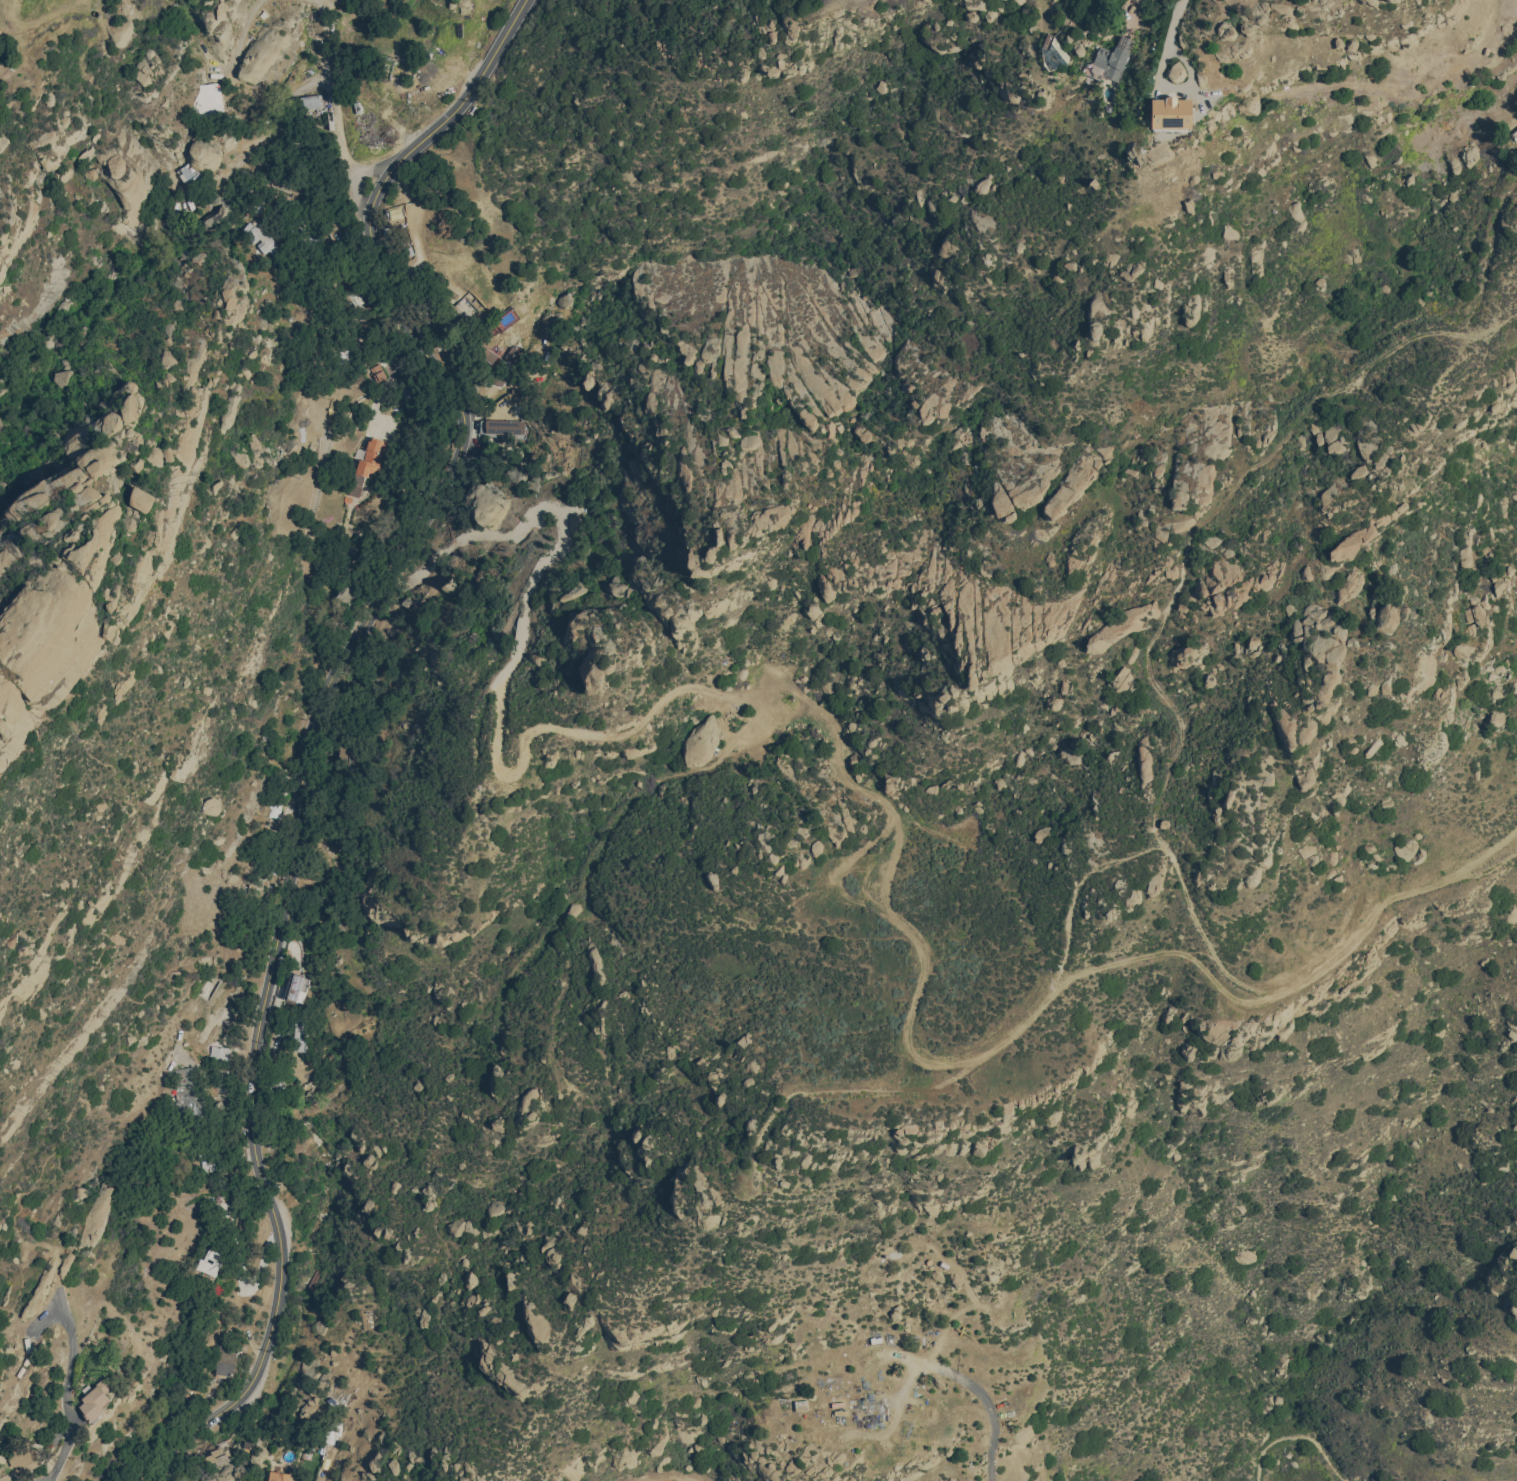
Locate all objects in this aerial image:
road: (1172, 23)
road: (244, 31)
building: (1113, 57)
building: (1174, 69)
building: (144, 73)
building: (207, 98)
building: (310, 100)
building: (1170, 112)
road: (335, 114)
road: (366, 170)
building: (1294, 210)
building: (259, 238)
building: (225, 292)
building: (1190, 309)
building: (508, 352)
building: (375, 372)
building: (501, 426)
building: (292, 448)
building: (366, 461)
building: (94, 469)
building: (88, 496)
building: (140, 497)
building: (570, 591)
building: (1385, 617)
building: (1177, 661)
building: (1117, 676)
road: (318, 723)
building: (352, 756)
building: (210, 805)
building: (272, 810)
building: (292, 948)
building: (295, 987)
building: (299, 1036)
building: (218, 1052)
building: (186, 1092)
building: (98, 1207)
building: (209, 1261)
building: (225, 1359)
road: (70, 1399)
road: (990, 1399)
building: (94, 1400)
road: (1297, 1439)
road: (327, 1453)
building: (23, 1457)
building: (277, 1476)

